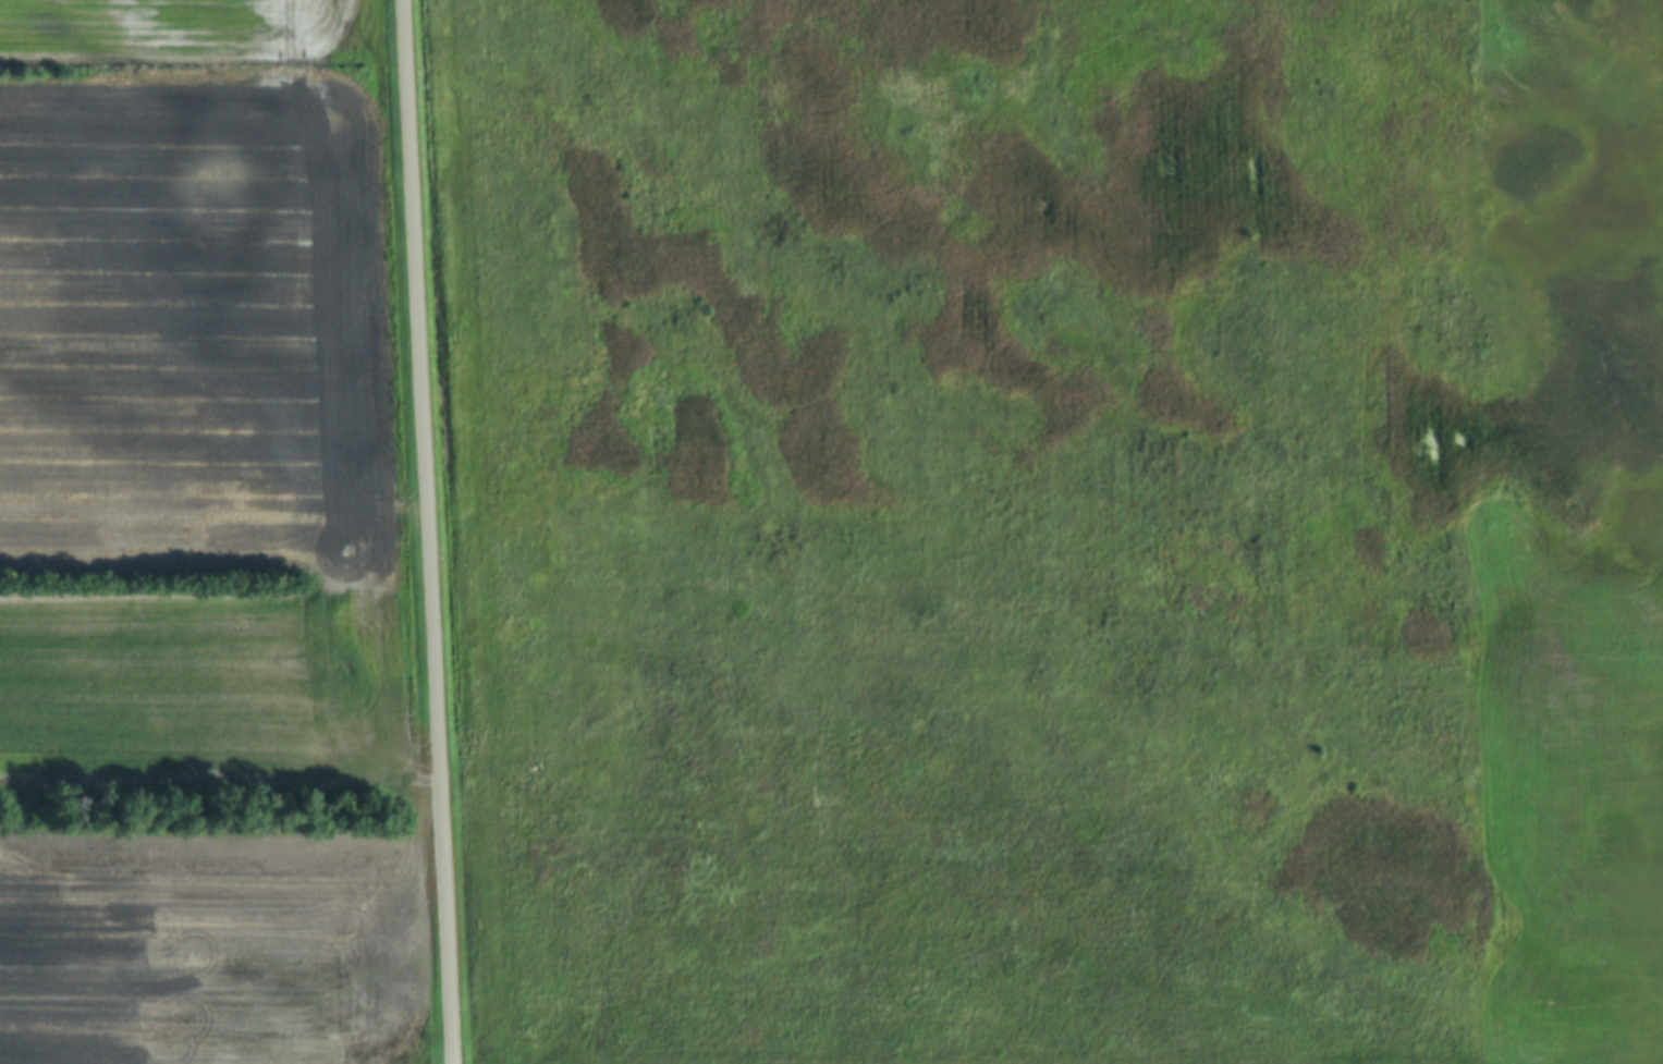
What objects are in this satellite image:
crop: (174, 28)
road: (435, 531)
crop: (199, 589)

